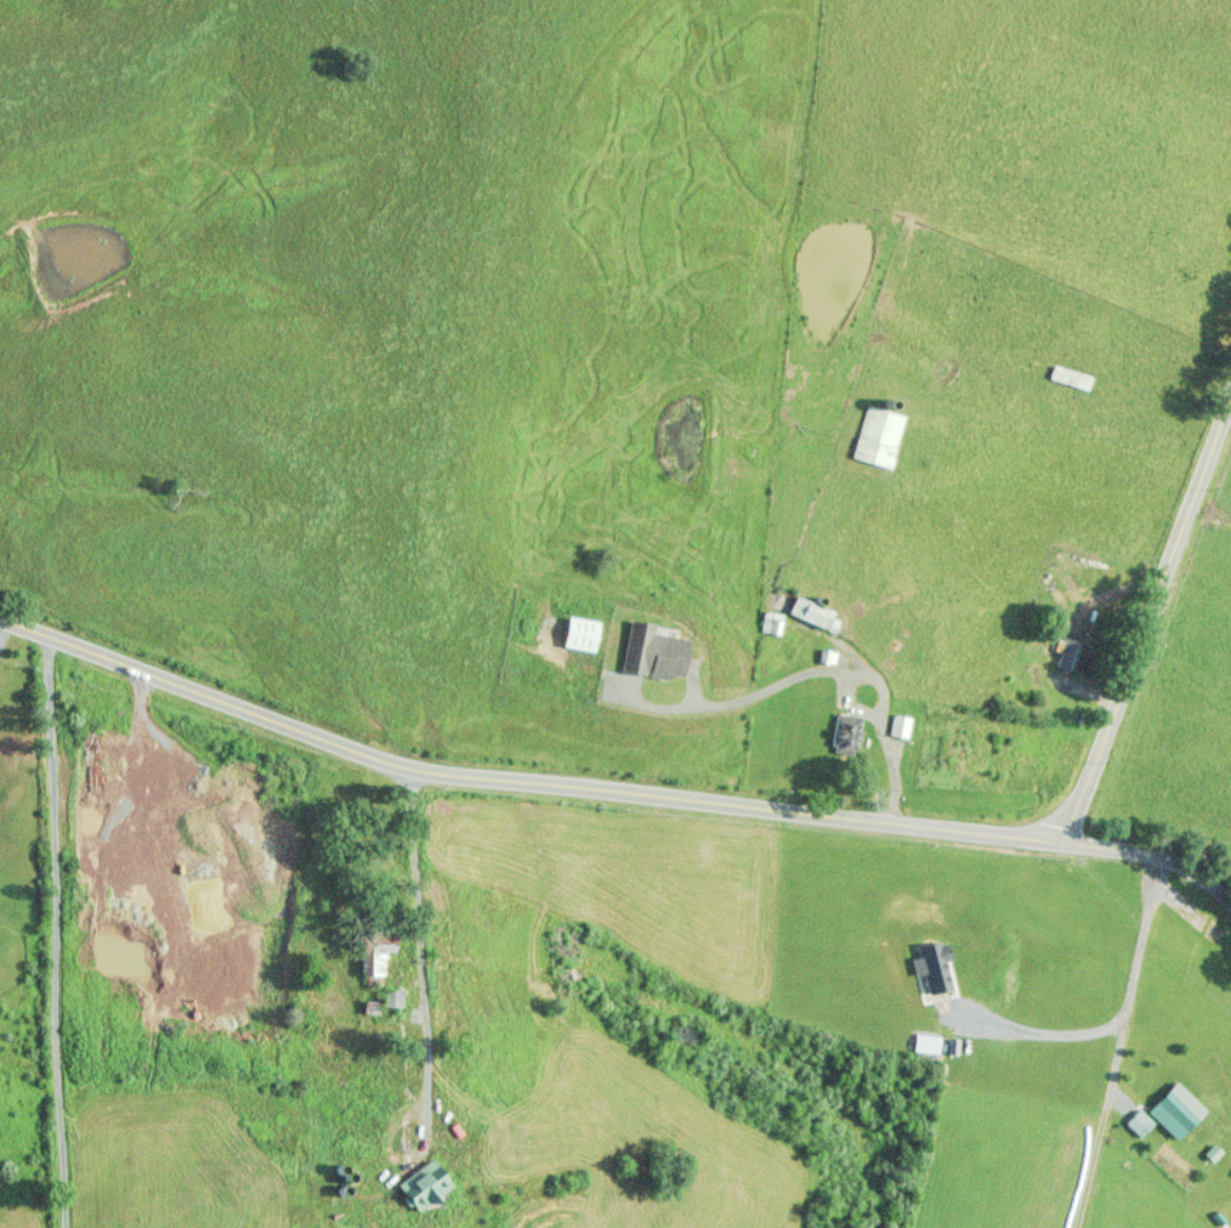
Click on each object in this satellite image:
building: (1071, 377)
building: (878, 436)
building: (815, 613)
road: (1146, 617)
building: (771, 622)
building: (656, 651)
building: (1076, 656)
building: (901, 725)
building: (846, 734)
road: (611, 785)
building: (375, 961)
building: (1176, 1110)
building: (1139, 1122)
building: (427, 1185)

